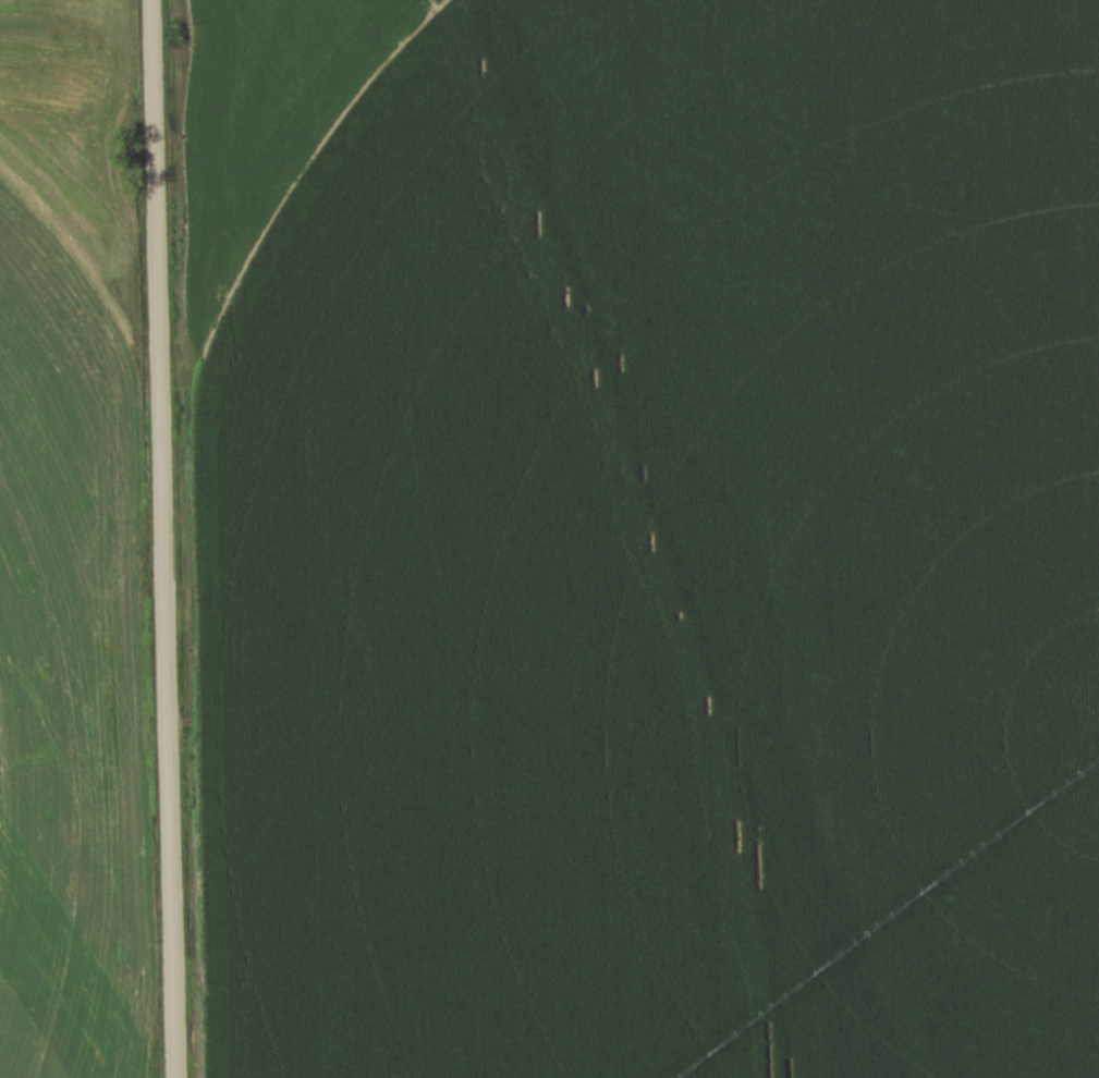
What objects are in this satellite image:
road: (164, 539)

